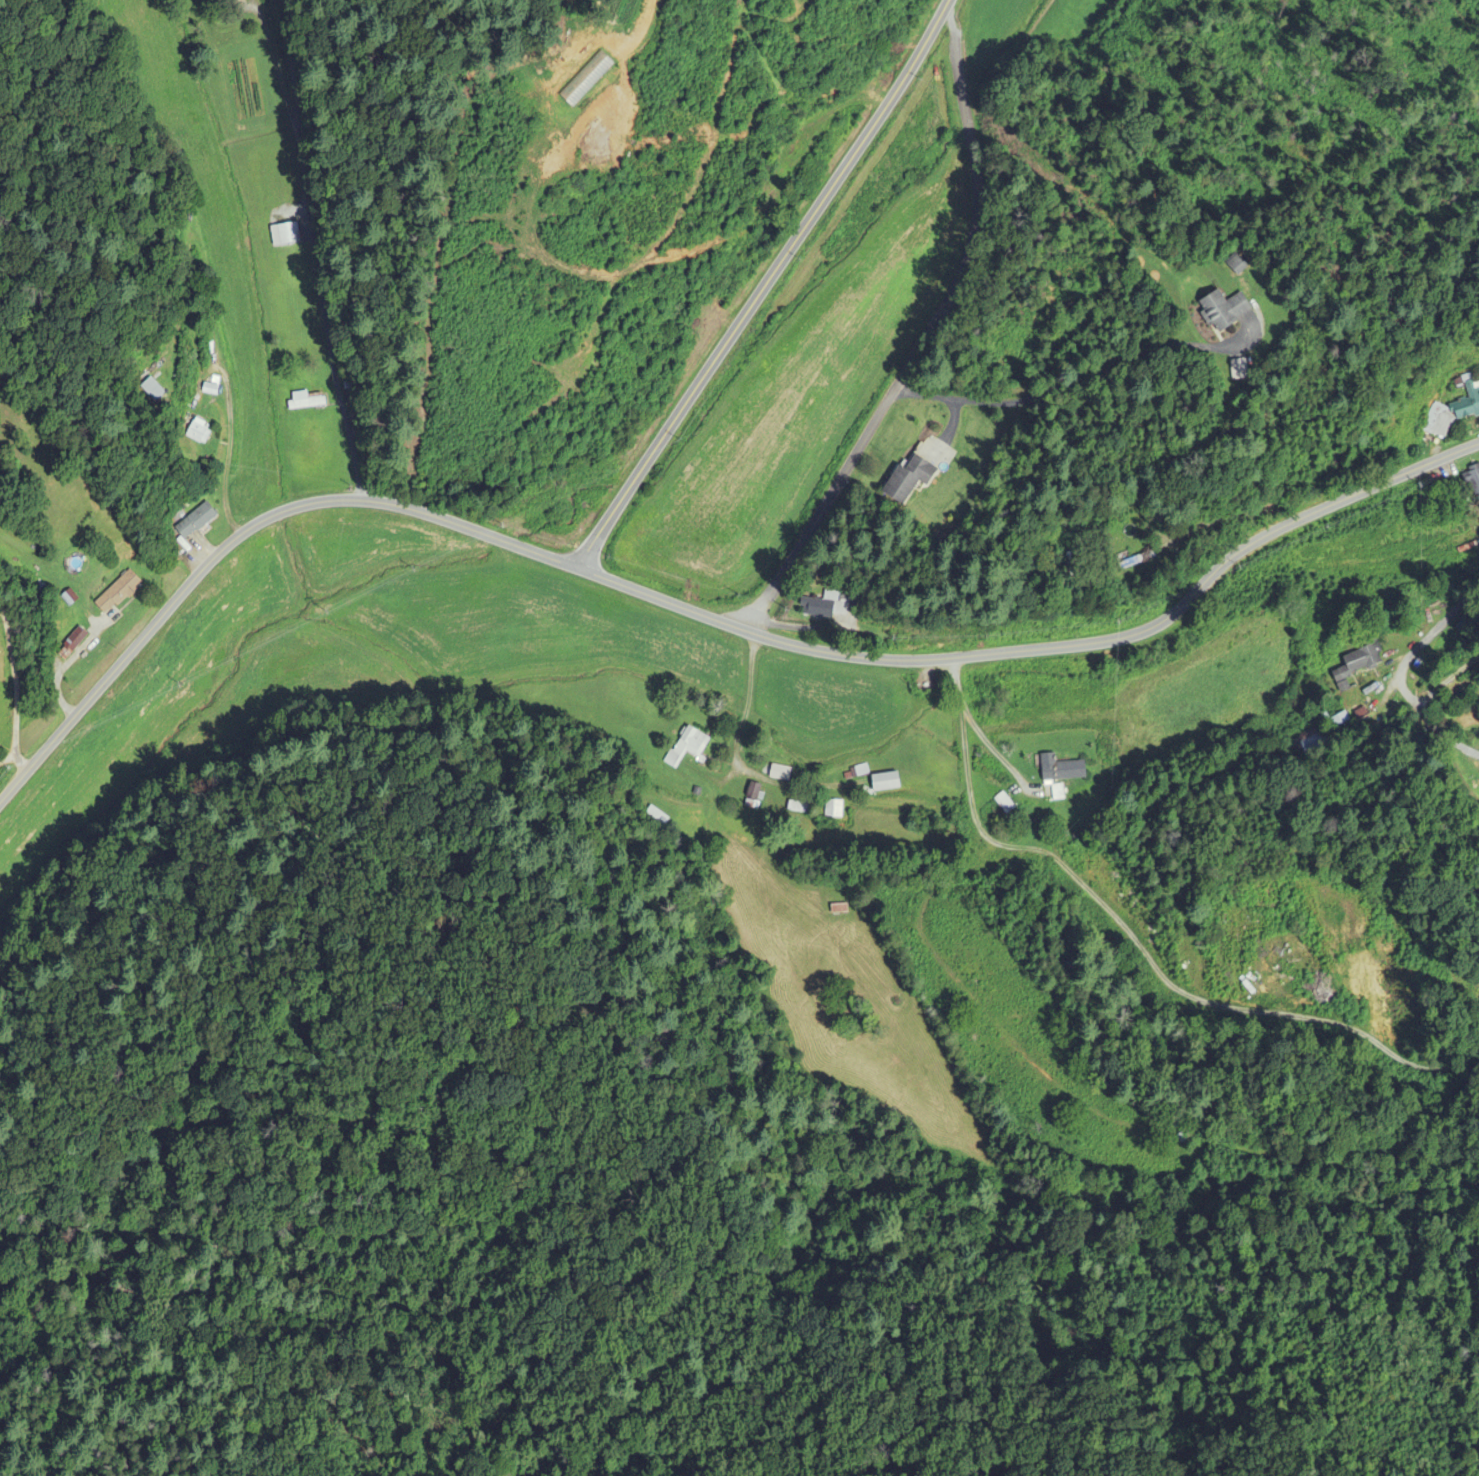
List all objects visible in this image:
building: (233, 1)
road: (293, 69)
road: (961, 89)
road: (317, 248)
building: (1239, 267)
road: (761, 284)
building: (1225, 310)
road: (1069, 385)
building: (152, 389)
building: (307, 401)
building: (1452, 412)
road: (881, 413)
building: (199, 432)
building: (908, 479)
building: (1472, 479)
building: (195, 521)
building: (1139, 561)
building: (118, 593)
building: (820, 608)
road: (696, 614)
building: (72, 644)
building: (1358, 665)
road: (1402, 668)
road: (17, 689)
building: (1340, 721)
road: (995, 740)
building: (1316, 742)
building: (686, 747)
building: (1061, 769)
building: (788, 773)
building: (886, 782)
building: (753, 795)
building: (1004, 803)
building: (798, 807)
building: (833, 809)
building: (839, 909)
road: (1143, 940)
building: (1186, 1134)

